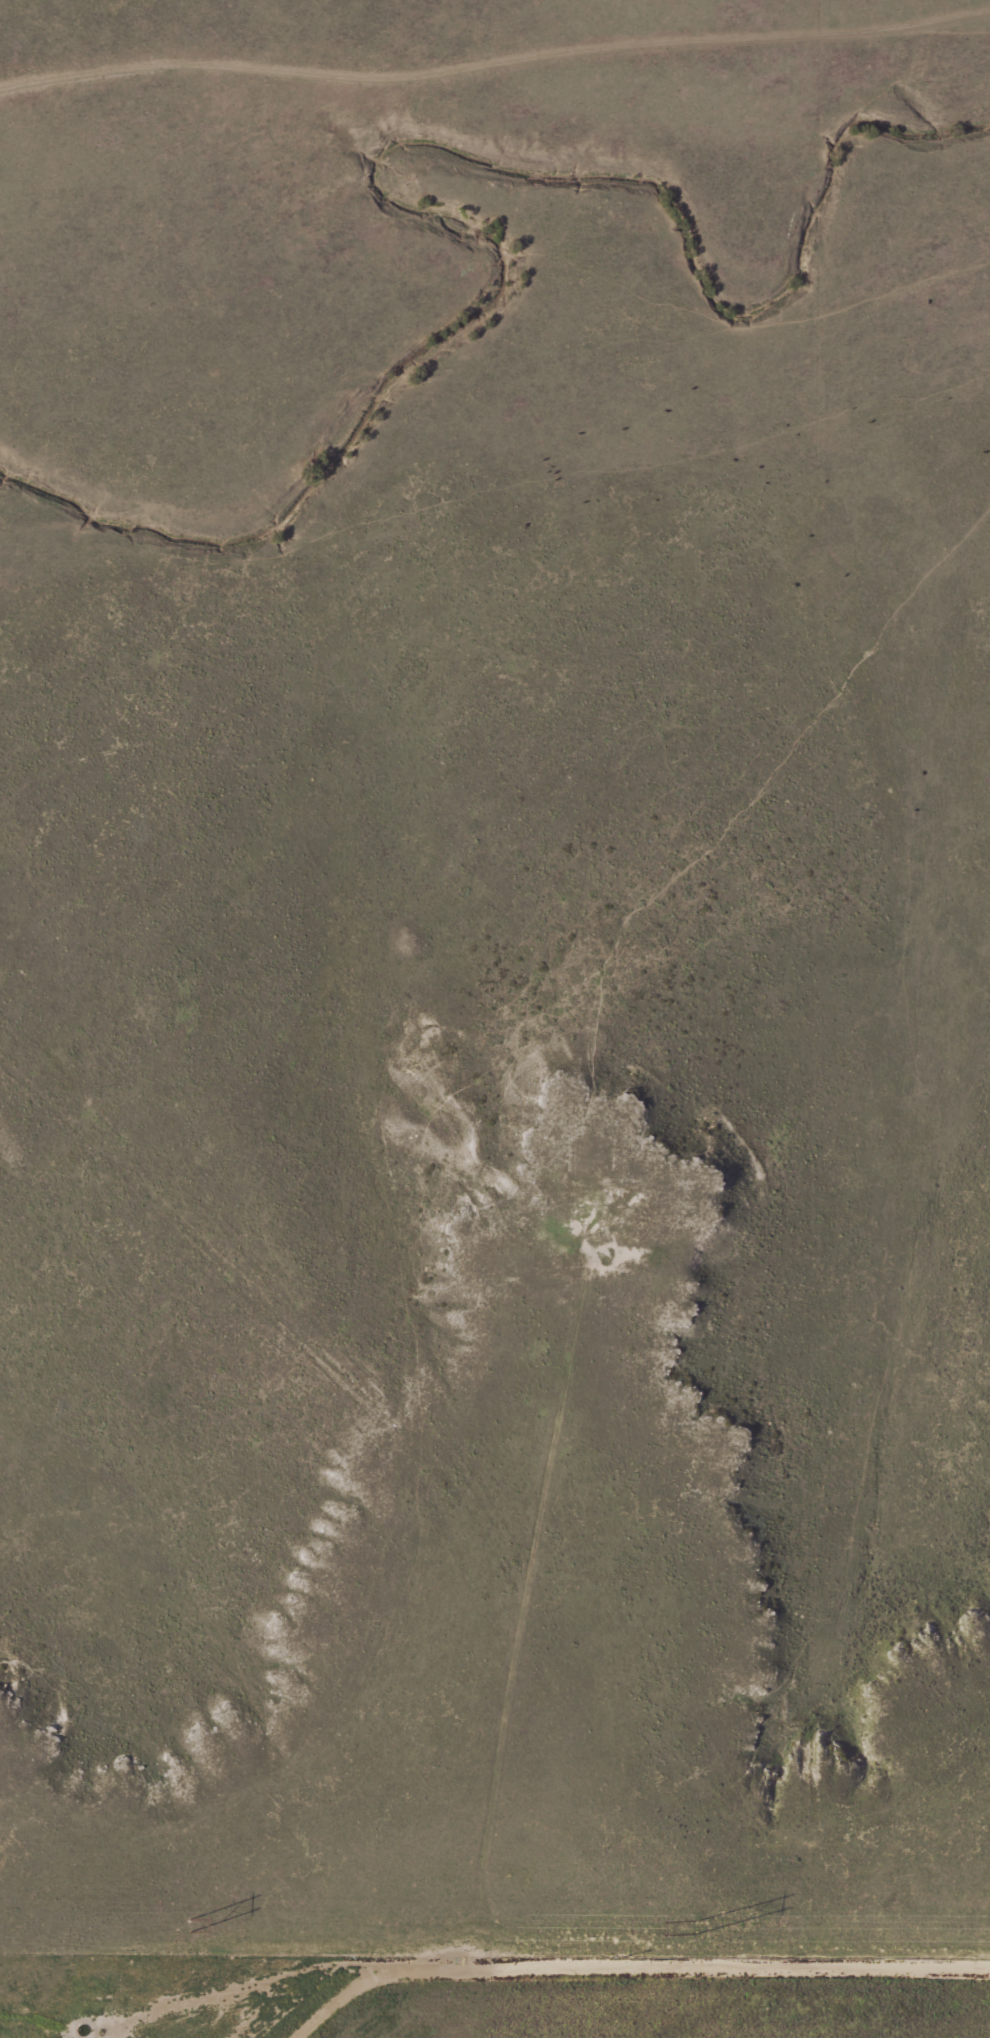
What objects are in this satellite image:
power tower: (188, 1926)
power tower: (695, 1928)

